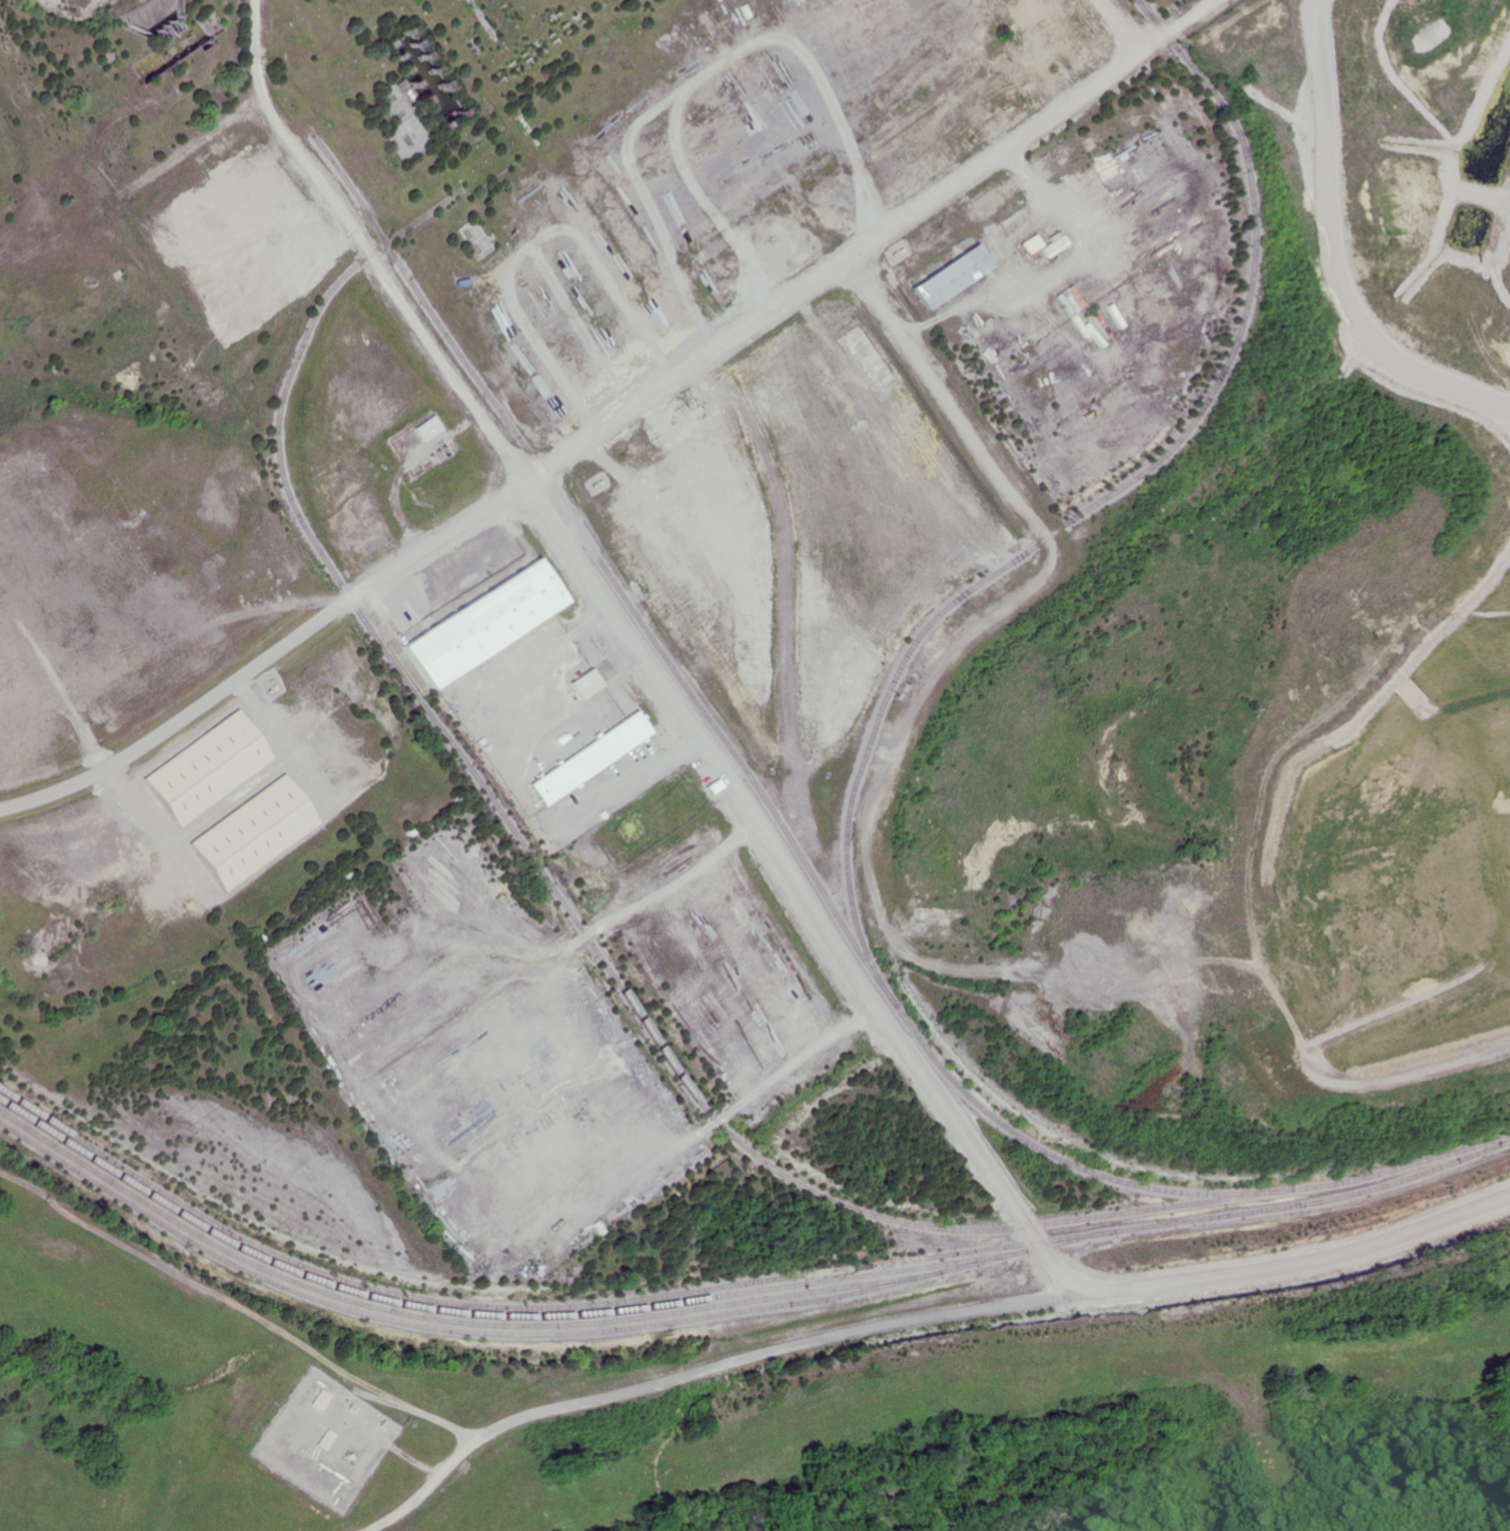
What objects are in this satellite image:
railway: (483, 18)
road: (1117, 28)
road: (139, 179)
building: (958, 277)
road: (616, 421)
building: (426, 429)
building: (485, 621)
railway: (903, 657)
building: (585, 682)
building: (590, 756)
building: (206, 766)
railway: (485, 783)
building: (713, 783)
road: (223, 803)
building: (254, 831)
road: (870, 982)
road: (809, 1102)
railway: (1406, 1167)
railway: (1159, 1208)
road: (1310, 1260)
railway: (524, 1302)
railway: (738, 1311)
railway: (473, 1315)
railway: (430, 1316)
building: (322, 1401)
road: (1241, 1420)
road: (1273, 1489)

